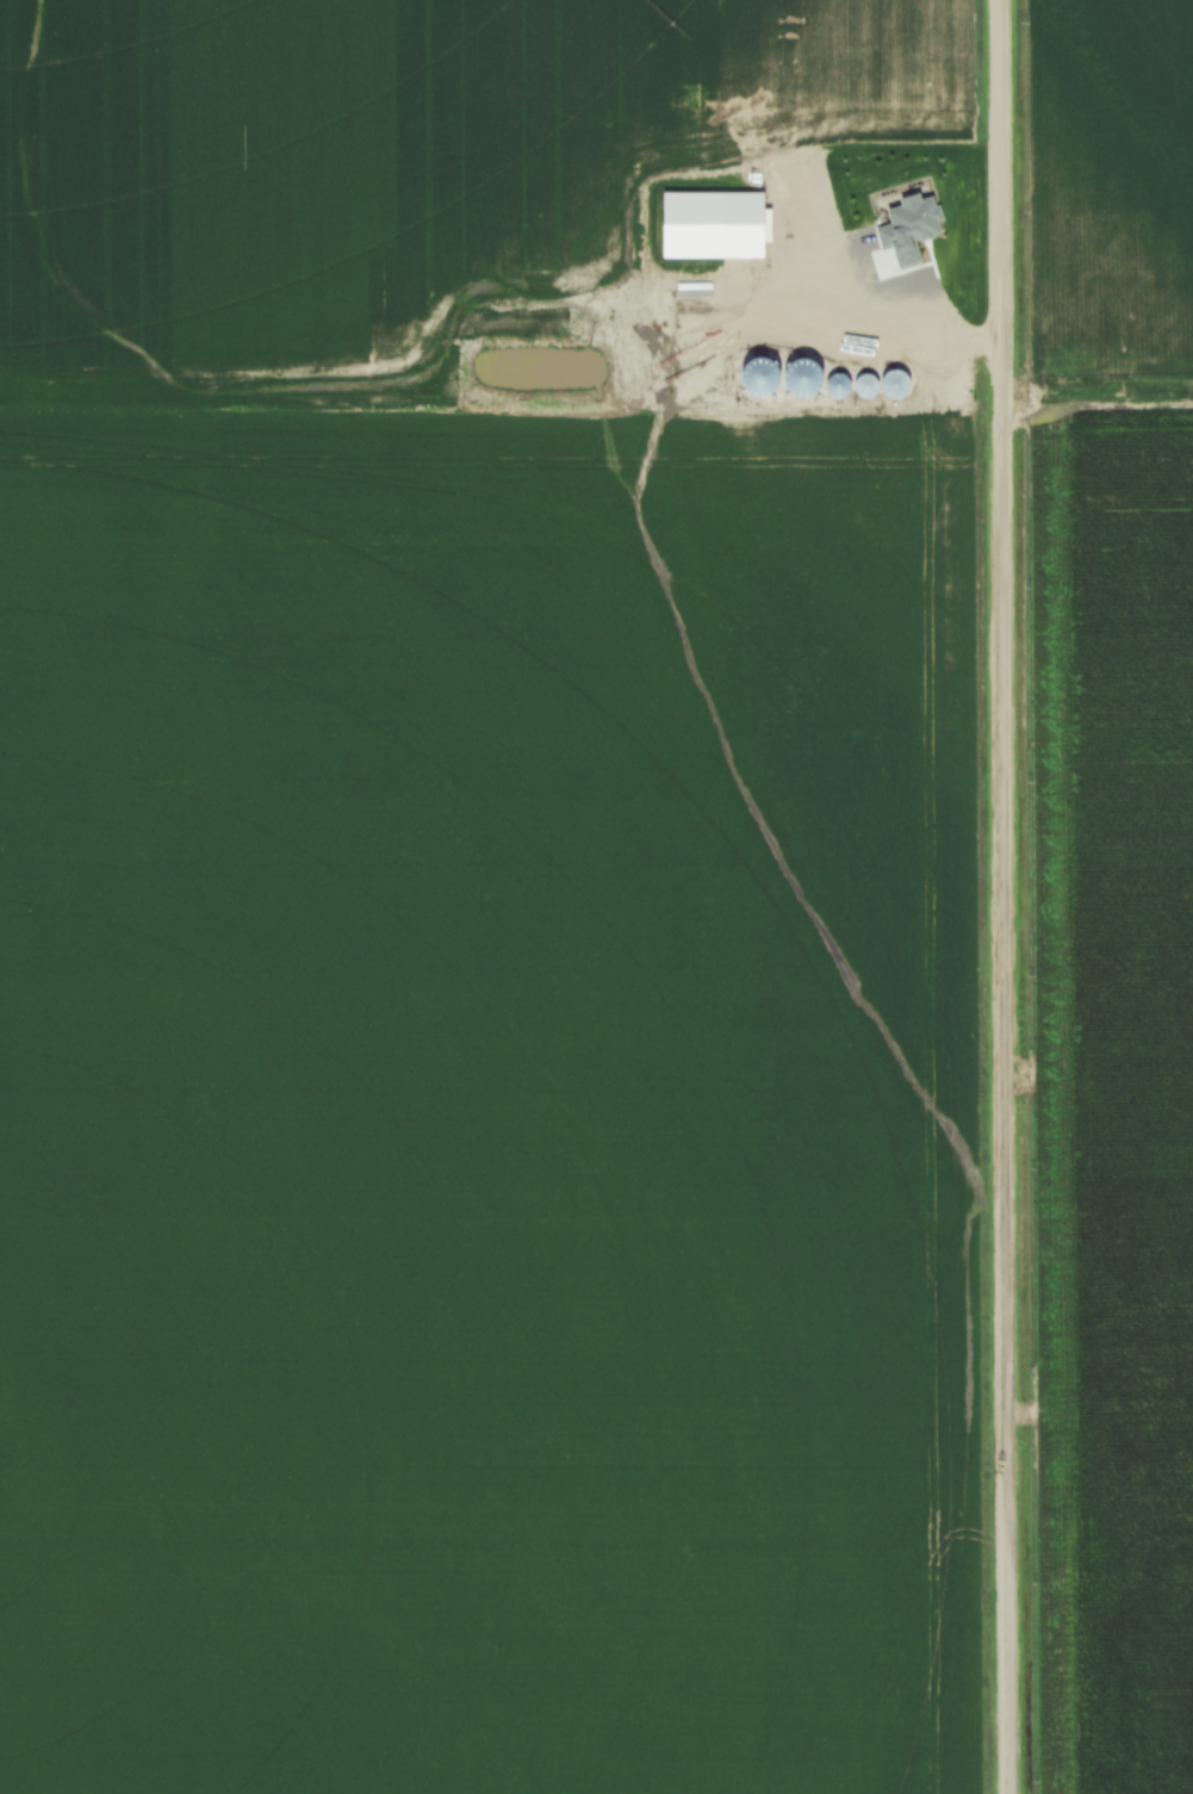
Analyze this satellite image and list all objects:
building: (715, 224)
road: (855, 310)
silo: (864, 383)
silo: (835, 384)
building: (889, 384)
silo: (895, 386)
crop: (1117, 882)
road: (1006, 896)
crop: (471, 943)

